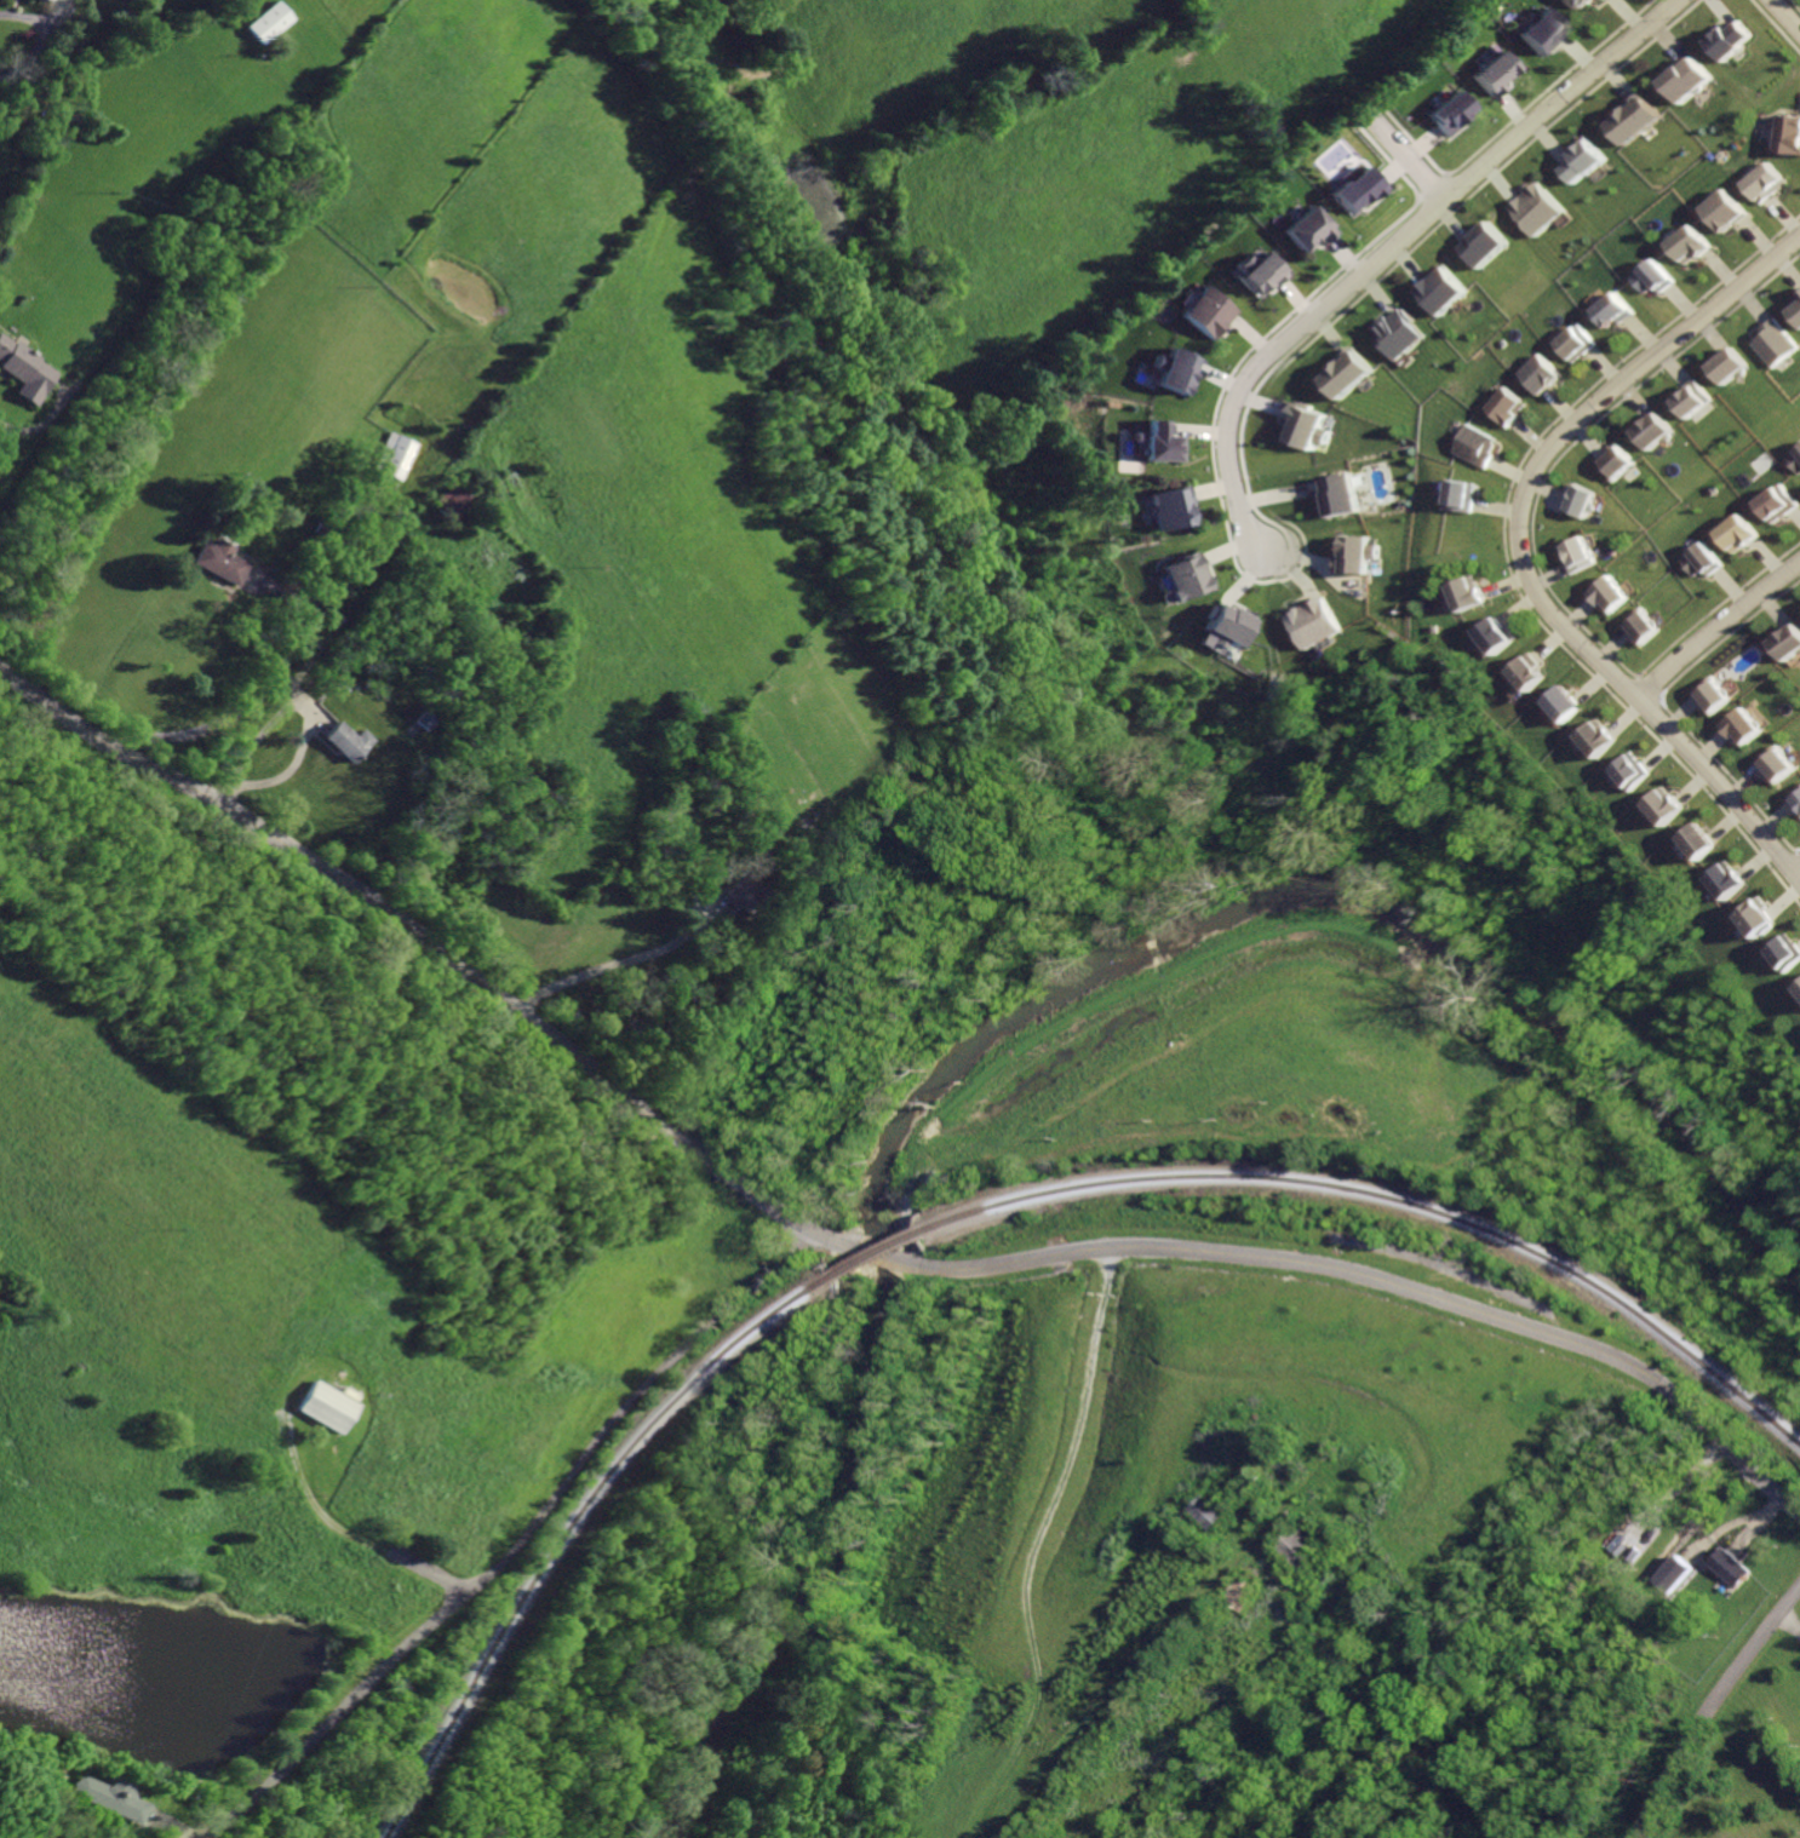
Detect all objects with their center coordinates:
building: (50, 0)
building: (1581, 4)
road: (27, 15)
building: (270, 22)
road: (1779, 22)
building: (1540, 30)
building: (1722, 40)
road: (40, 45)
building: (1487, 67)
building: (1679, 82)
building: (1628, 110)
building: (1448, 111)
building: (1785, 134)
road: (1408, 155)
building: (1584, 162)
building: (1758, 183)
building: (1360, 190)
building: (1538, 199)
building: (1720, 211)
building: (1313, 228)
building: (1686, 243)
building: (1487, 245)
road: (1389, 248)
building: (1261, 266)
building: (1653, 276)
building: (1443, 291)
building: (1795, 306)
building: (1213, 311)
building: (1617, 311)
building: (1393, 323)
building: (1771, 343)
building: (1582, 344)
building: (1340, 363)
building: (1727, 366)
building: (27, 368)
building: (1180, 371)
building: (1546, 374)
building: (1693, 400)
building: (1508, 407)
building: (1300, 414)
building: (1657, 431)
building: (1165, 442)
building: (1474, 447)
building: (400, 455)
building: (1794, 459)
building: (1621, 461)
crop: (589, 470)
building: (1332, 483)
building: (1166, 496)
building: (1460, 496)
building: (458, 502)
building: (1584, 502)
building: (1781, 505)
building: (1743, 533)
road: (1520, 545)
building: (1349, 546)
building: (1583, 555)
building: (224, 561)
building: (1709, 561)
building: (1183, 567)
building: (1468, 593)
building: (1615, 593)
building: (1223, 614)
building: (1301, 614)
building: (1647, 627)
road: (1718, 630)
building: (1496, 634)
building: (1790, 643)
building: (1526, 672)
road: (270, 689)
building: (1720, 696)
building: (1561, 703)
building: (430, 719)
building: (1750, 726)
road: (271, 728)
building: (354, 740)
building: (1594, 740)
building: (1782, 764)
road: (296, 768)
building: (1632, 771)
building: (1796, 799)
building: (1666, 806)
building: (1698, 842)
road: (1796, 868)
building: (1727, 880)
building: (752, 894)
building: (1749, 911)
road: (428, 936)
building: (1778, 943)
road: (626, 961)
building: (1796, 980)
building: (1798, 988)
railway: (1382, 1199)
road: (859, 1253)
railway: (865, 1259)
road: (1101, 1270)
road: (1377, 1275)
crop: (293, 1351)
road: (629, 1402)
building: (329, 1406)
building: (1209, 1512)
road: (325, 1520)
railway: (572, 1530)
road: (1036, 1543)
building: (1299, 1545)
building: (1732, 1567)
building: (1674, 1573)
road: (1792, 1621)
road: (1175, 1624)
road: (1713, 1711)
road: (310, 1738)
building: (103, 1797)
crop: (8, 1834)

